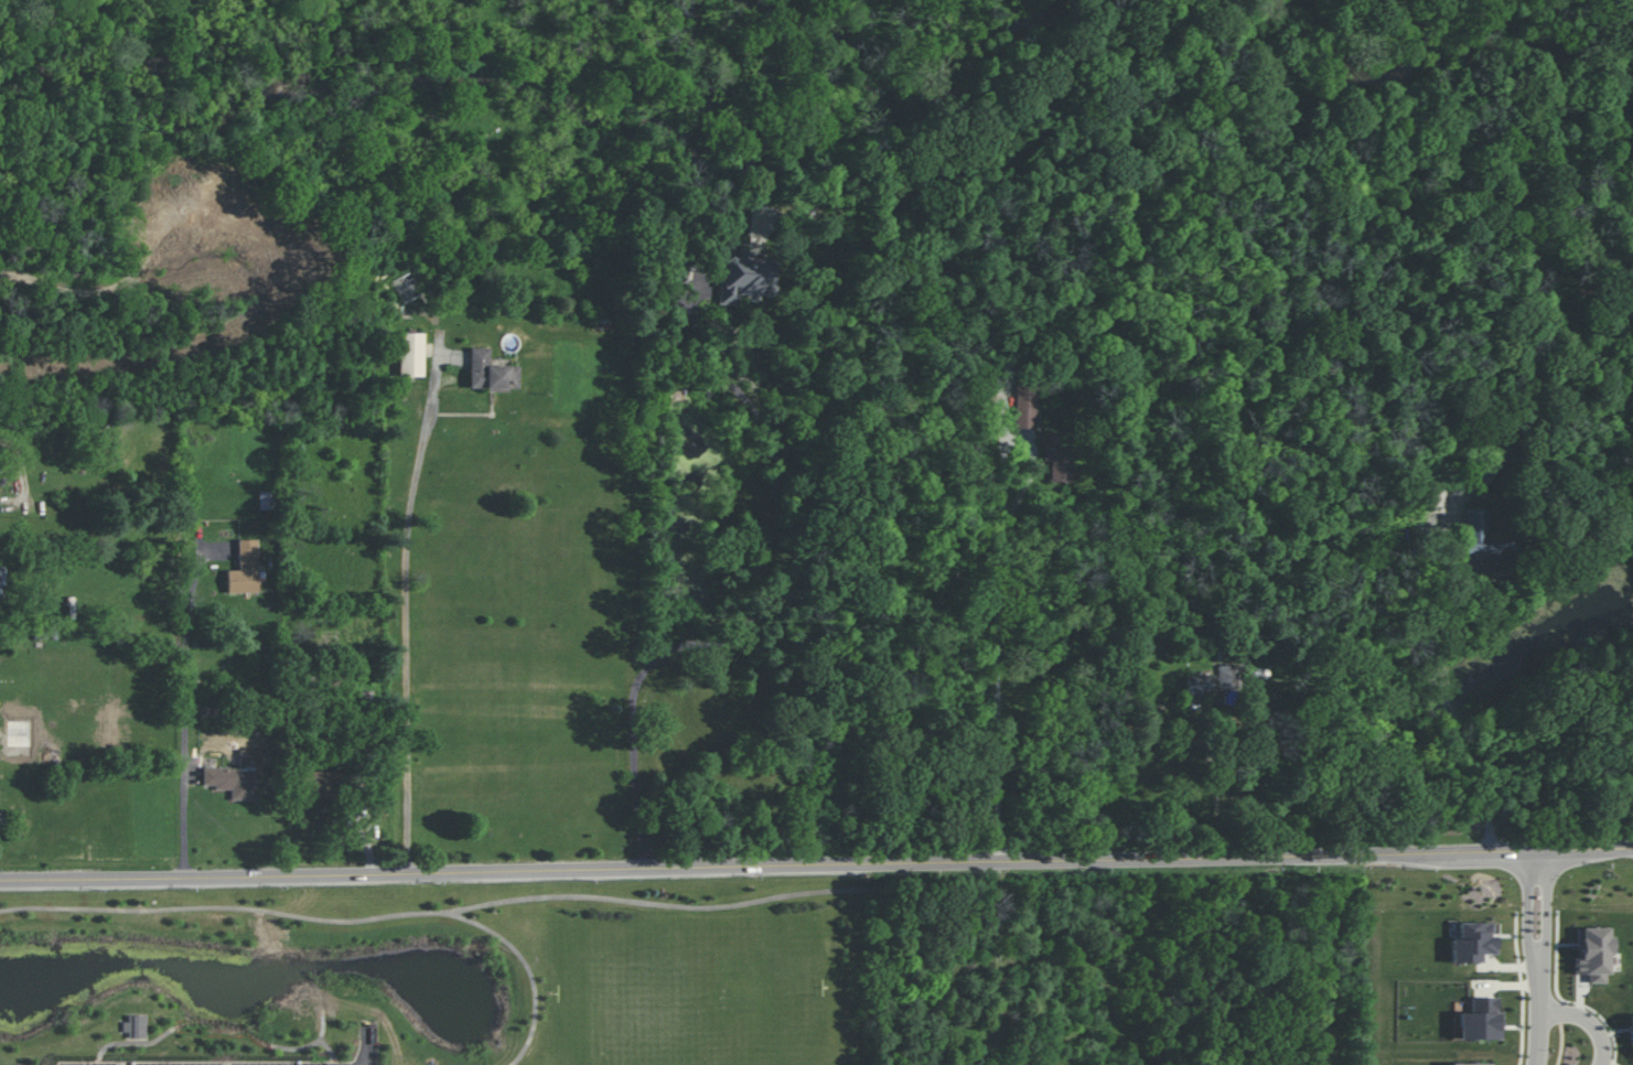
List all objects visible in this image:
building: (217, 197)
building: (677, 270)
building: (746, 277)
building: (405, 287)
building: (411, 354)
building: (491, 372)
building: (1025, 407)
building: (1059, 454)
building: (266, 499)
building: (1483, 545)
building: (245, 568)
road: (755, 600)
road: (407, 617)
road: (996, 630)
building: (1199, 685)
road: (1442, 696)
road: (184, 704)
building: (18, 738)
building: (232, 781)
building: (319, 783)
road: (1213, 783)
building: (2, 822)
road: (816, 863)
road: (1532, 865)
road: (1523, 912)
road: (1541, 912)
road: (438, 913)
building: (1472, 942)
building: (1592, 954)
road: (1535, 1007)
building: (1480, 1020)
road: (1583, 1021)
building: (136, 1026)
building: (1631, 1029)
building: (1468, 1063)

